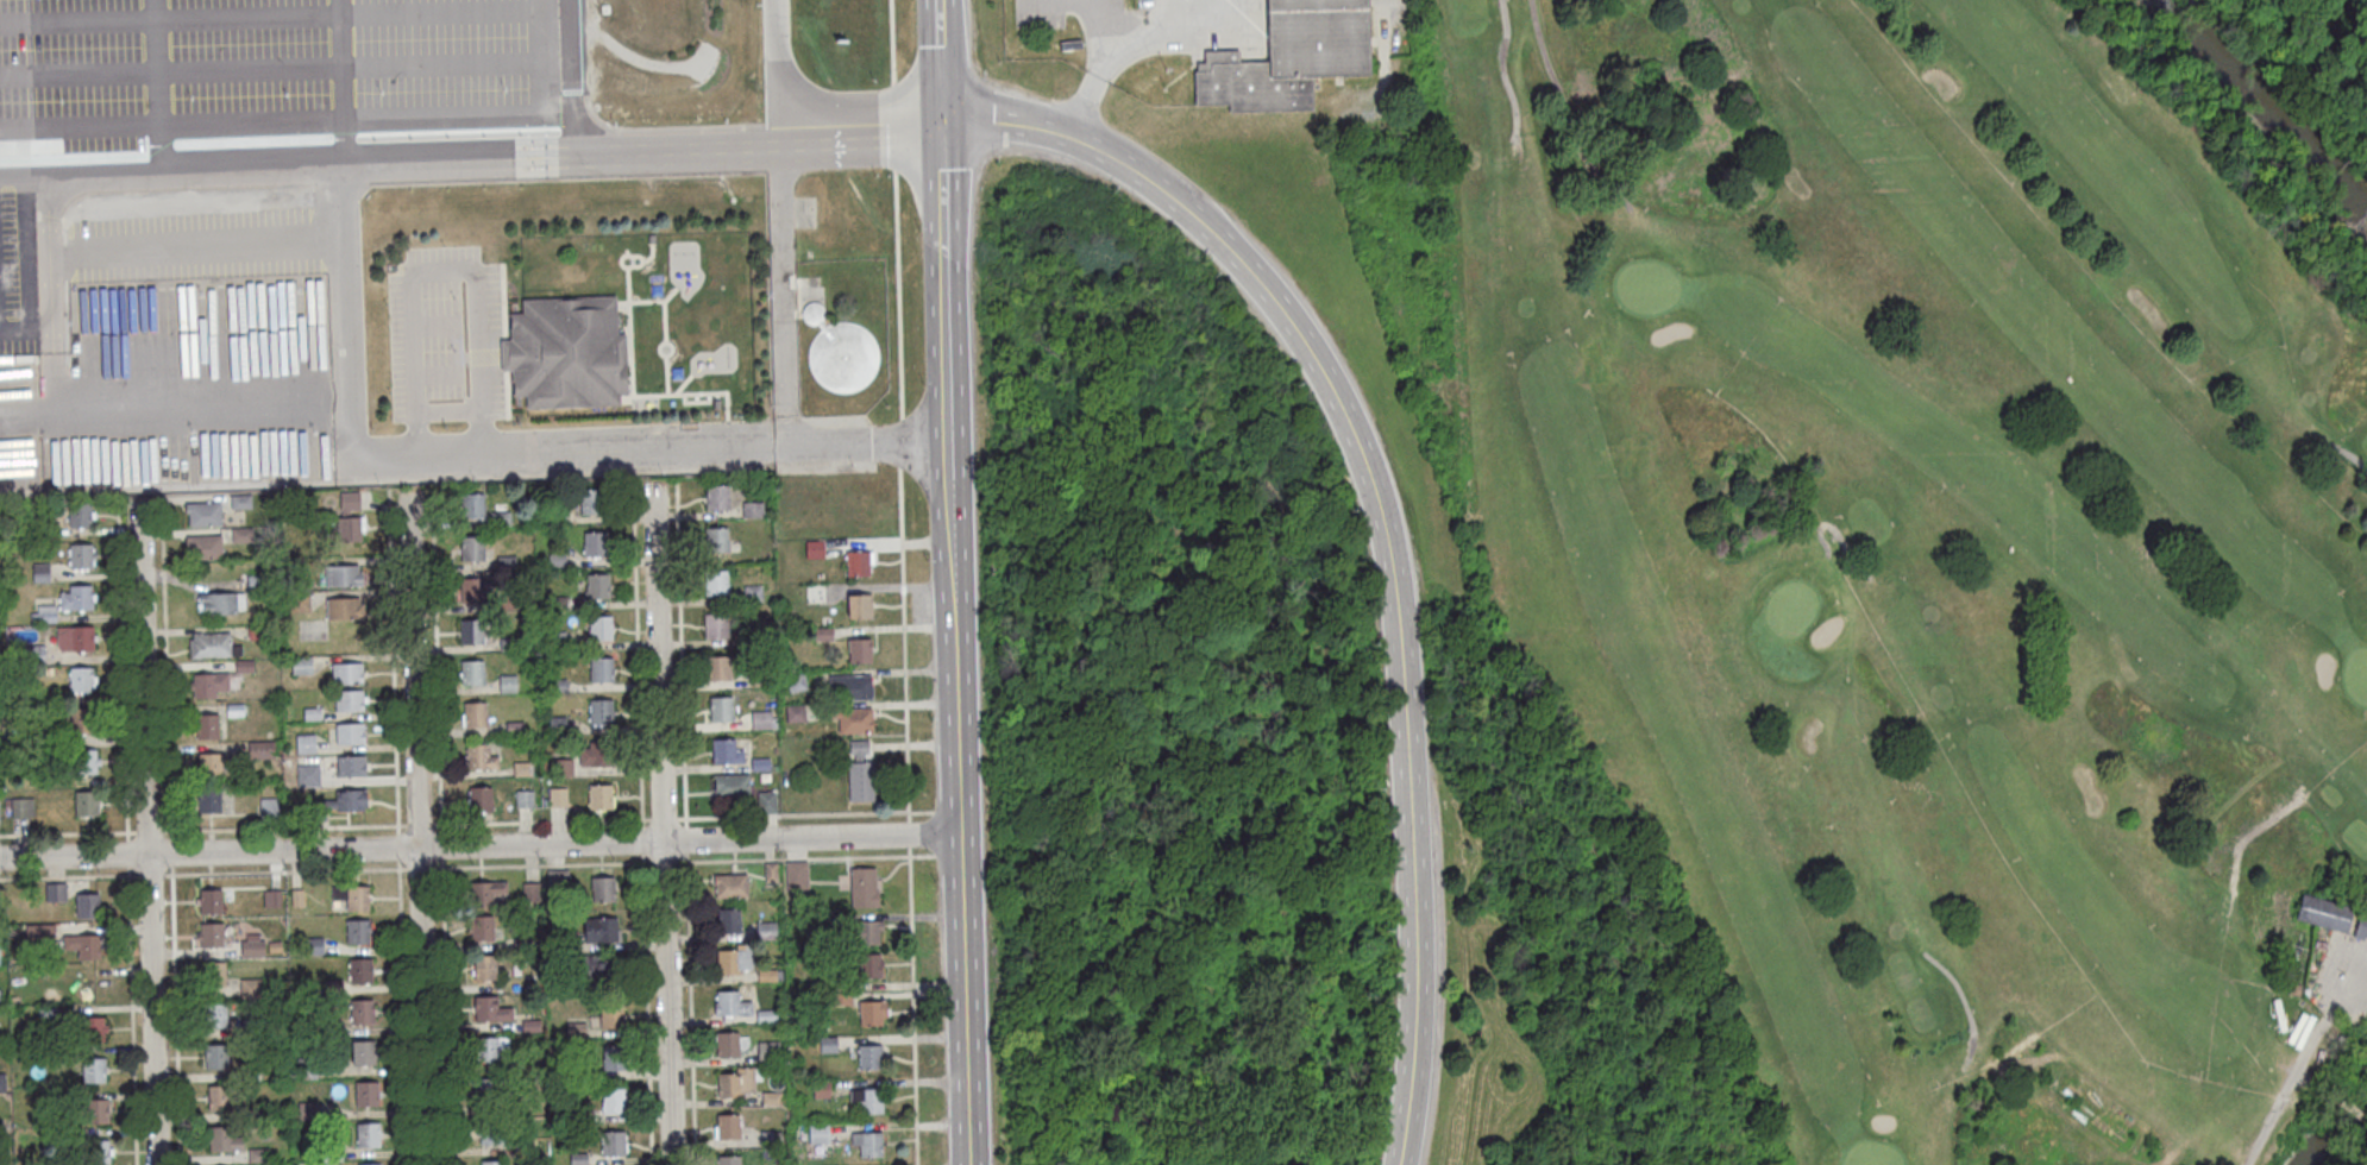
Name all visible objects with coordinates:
road: (1097, 0)
road: (1067, 1)
parking lot: (1037, 21)
road: (1112, 25)
road: (1217, 26)
road: (21, 36)
road: (1382, 36)
road: (941, 58)
road: (1116, 59)
building: (1291, 59)
road: (1503, 70)
road: (21, 75)
road: (1559, 102)
river: (2267, 111)
parking lot: (258, 112)
road: (21, 118)
road: (547, 156)
road: (943, 183)
street lamp: (1119, 185)
road: (36, 199)
road: (27, 232)
building: (652, 243)
road: (445, 271)
street lamp: (1220, 271)
road: (49, 279)
road: (784, 298)
road: (350, 310)
building: (840, 353)
building: (566, 357)
street lamp: (1300, 384)
building: (716, 404)
road: (868, 446)
road: (779, 448)
road: (949, 448)
road: (2338, 451)
road: (349, 458)
building: (717, 499)
building: (241, 502)
building: (265, 502)
building: (592, 502)
building: (473, 506)
building: (753, 510)
building: (203, 514)
building: (80, 515)
building: (349, 517)
building: (557, 517)
building: (501, 518)
road: (1380, 523)
park: (1934, 529)
building: (46, 530)
building: (241, 535)
building: (716, 541)
building: (595, 544)
building: (205, 547)
building: (472, 548)
building: (815, 549)
building: (80, 556)
building: (557, 560)
building: (507, 562)
building: (858, 563)
building: (40, 573)
building: (343, 575)
road: (902, 581)
building: (257, 584)
building: (717, 584)
building: (597, 586)
building: (472, 590)
building: (816, 592)
building: (753, 596)
building: (76, 598)
building: (509, 602)
building: (216, 603)
building: (299, 603)
building: (860, 606)
building: (344, 609)
building: (44, 615)
building: (716, 626)
building: (601, 628)
building: (258, 631)
building: (471, 631)
building: (823, 635)
building: (75, 640)
building: (558, 641)
building: (509, 644)
building: (213, 646)
building: (860, 650)
building: (244, 666)
building: (302, 666)
building: (718, 668)
road: (165, 669)
road: (123, 670)
building: (602, 670)
building: (347, 672)
building: (472, 673)
building: (760, 679)
building: (81, 680)
building: (795, 681)
building: (508, 684)
building: (209, 685)
building: (558, 686)
building: (852, 687)
building: (350, 700)
park: (1280, 709)
building: (234, 711)
building: (722, 711)
building: (601, 712)
building: (20, 713)
building: (475, 713)
building: (795, 714)
building: (313, 716)
building: (852, 719)
building: (761, 720)
building: (81, 722)
building: (558, 725)
building: (207, 726)
building: (514, 728)
building: (350, 732)
road: (955, 741)
building: (306, 744)
building: (858, 745)
building: (262, 750)
building: (727, 752)
building: (596, 754)
building: (481, 756)
building: (84, 762)
building: (209, 764)
building: (759, 764)
building: (351, 766)
building: (561, 767)
building: (521, 769)
building: (308, 775)
building: (860, 780)
building: (730, 785)
building: (599, 795)
building: (557, 796)
building: (481, 798)
building: (523, 799)
building: (209, 800)
building: (86, 802)
building: (339, 802)
building: (766, 802)
building: (21, 808)
building: (269, 812)
road: (640, 821)
road: (660, 823)
road: (684, 823)
road: (396, 826)
road: (416, 827)
road: (440, 827)
road: (146, 831)
road: (478, 846)
road: (170, 851)
road: (127, 854)
street lamp: (178, 865)
building: (770, 871)
building: (796, 875)
building: (557, 882)
building: (729, 884)
building: (862, 887)
building: (602, 889)
building: (485, 892)
building: (56, 893)
building: (530, 893)
building: (352, 896)
building: (297, 899)
building: (271, 900)
building: (211, 901)
building: (87, 905)
building: (2318, 913)
building: (727, 919)
building: (829, 921)
building: (482, 927)
building: (2356, 927)
building: (599, 930)
building: (40, 931)
building: (765, 931)
building: (358, 932)
building: (867, 932)
building: (211, 934)
building: (83, 945)
building: (563, 945)
building: (314, 946)
building: (275, 947)
building: (252, 949)
building: (727, 961)
building: (868, 965)
building: (484, 966)
building: (595, 968)
building: (360, 970)
building: (214, 974)
building: (765, 975)
building: (842, 982)
building: (90, 987)
building: (333, 988)
building: (250, 989)
building: (2290, 989)
building: (841, 999)
road: (961, 1000)
road: (1964, 1000)
building: (730, 1003)
building: (490, 1009)
building: (871, 1010)
building: (362, 1012)
building: (46, 1014)
road: (175, 1014)
building: (215, 1014)
road: (131, 1015)
building: (610, 1015)
building: (765, 1016)
building: (530, 1027)
building: (93, 1028)
building: (251, 1029)
building: (329, 1029)
building: (576, 1031)
building: (1, 1044)
building: (727, 1044)
building: (827, 1044)
building: (489, 1048)
building: (364, 1052)
building: (767, 1052)
building: (57, 1054)
building: (215, 1056)
building: (613, 1057)
building: (868, 1057)
road: (2296, 1063)
building: (511, 1065)
street lamp: (1388, 1069)
building: (93, 1070)
building: (307, 1070)
building: (250, 1075)
building: (578, 1075)
road: (2308, 1081)
building: (2, 1082)
building: (734, 1083)
building: (821, 1089)
building: (489, 1090)
building: (366, 1094)
building: (219, 1097)
building: (62, 1098)
building: (771, 1098)
building: (867, 1098)
building: (613, 1101)
road: (2346, 1103)
building: (96, 1112)
building: (307, 1112)
river: (2338, 1125)
building: (1, 1127)
building: (727, 1127)
building: (490, 1132)
building: (818, 1134)
building: (369, 1135)
building: (54, 1139)
building: (224, 1139)
building: (770, 1139)
building: (613, 1144)
building: (868, 1144)
building: (523, 1150)
building: (332, 1152)
building: (95, 1153)
building: (258, 1155)
building: (4, 1159)
building: (577, 1159)
building: (728, 1160)
building: (491, 1163)
building: (372, 1164)

